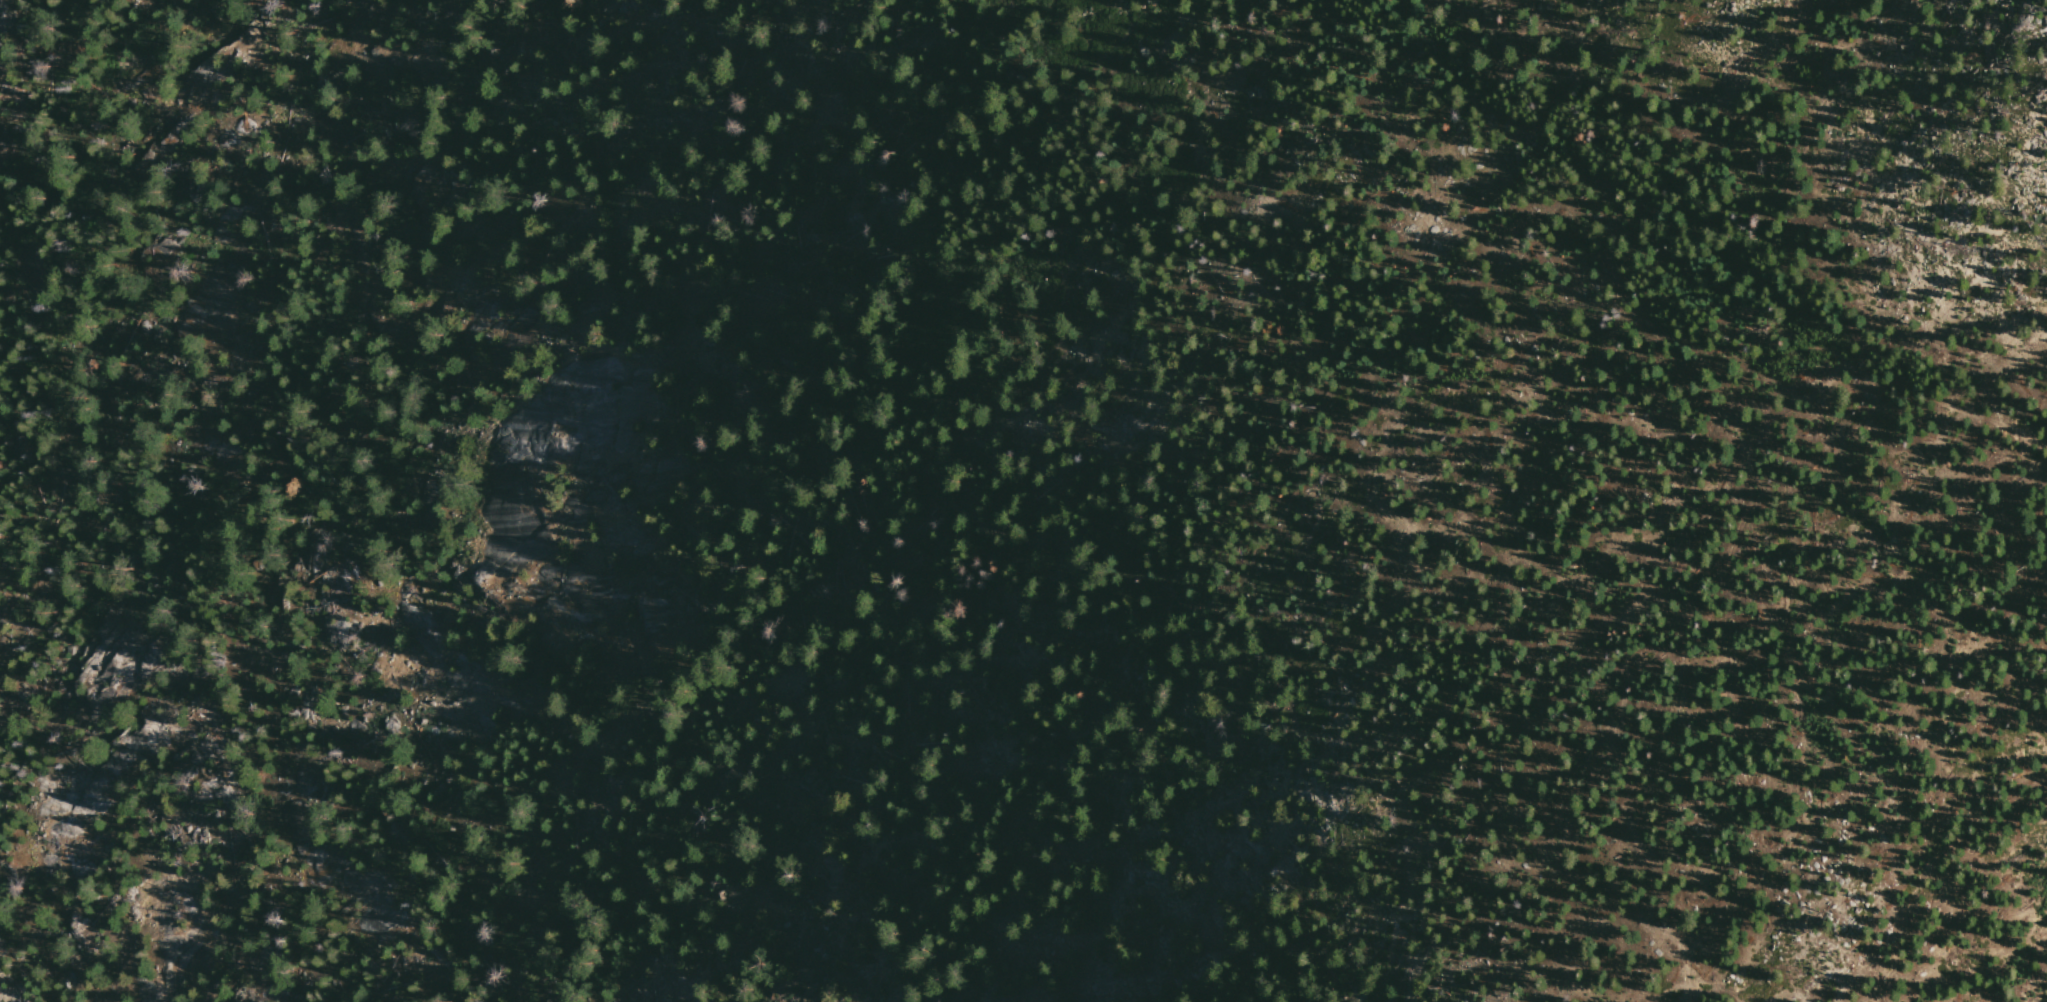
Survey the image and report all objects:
road: (1930, 407)
road: (1920, 762)

